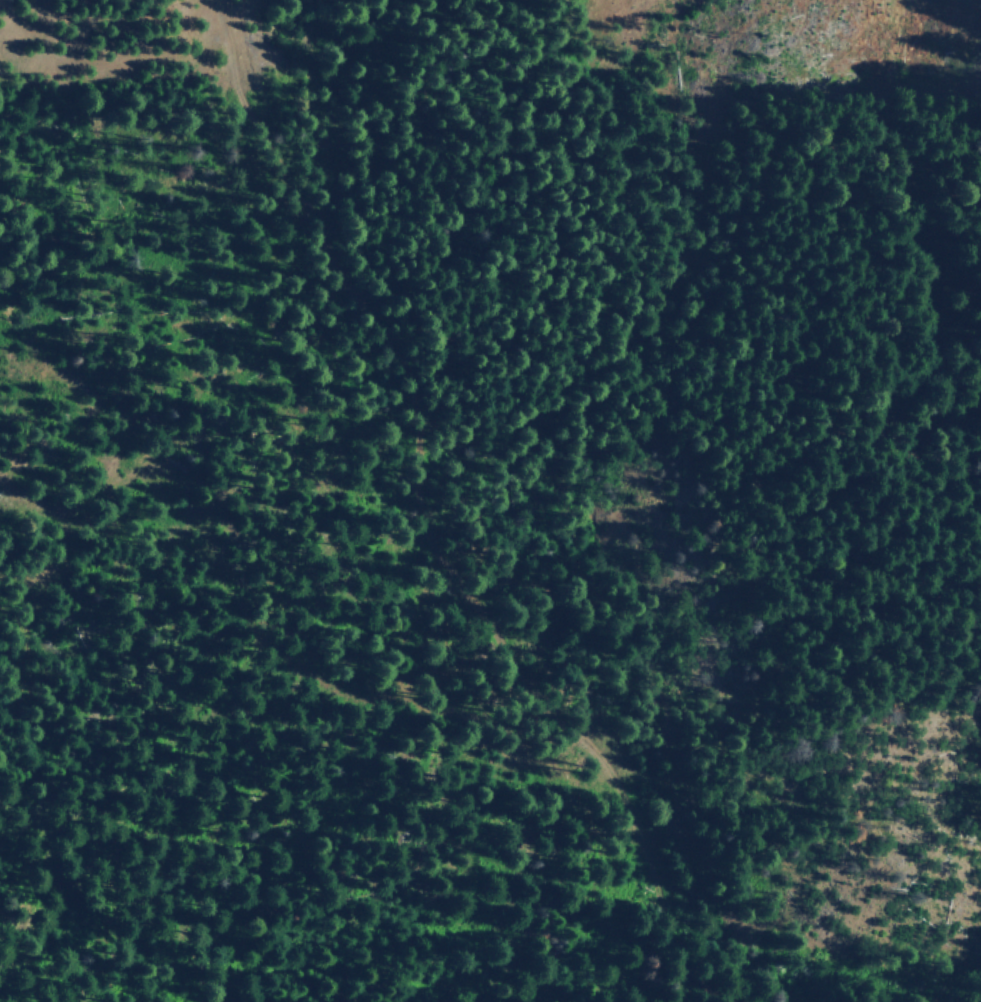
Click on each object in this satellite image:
road: (453, 507)

